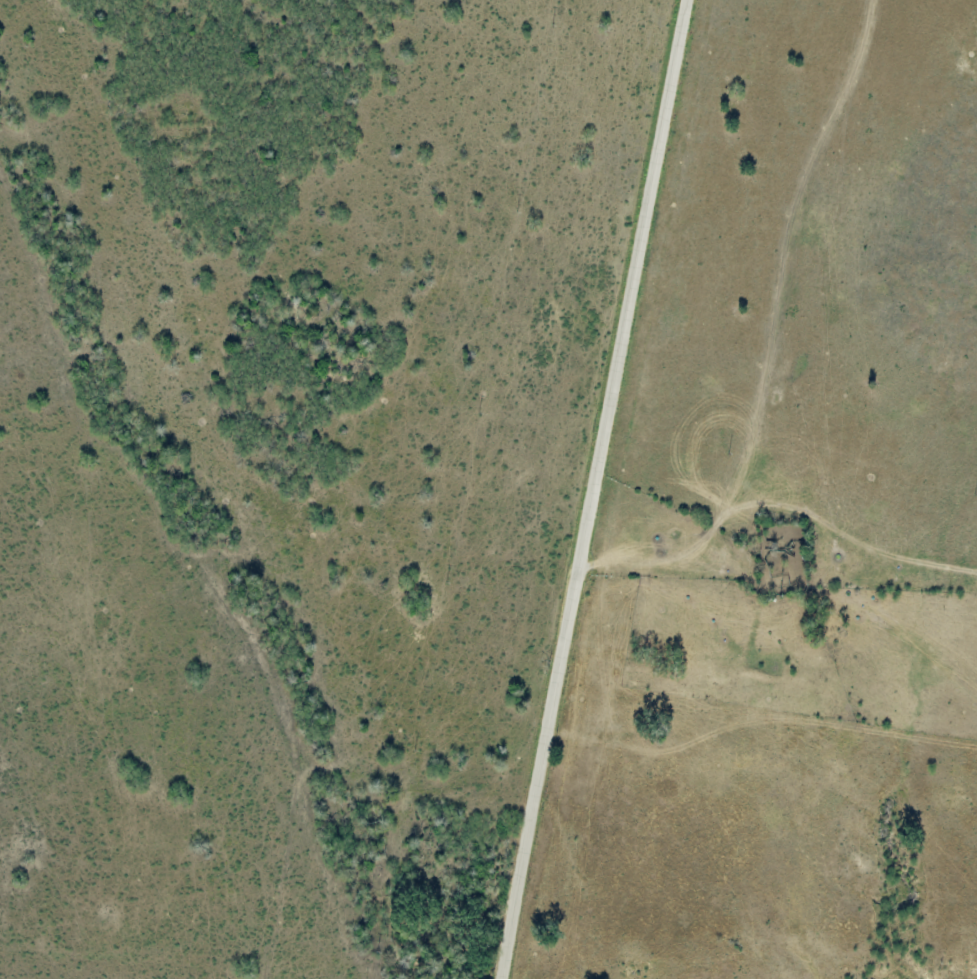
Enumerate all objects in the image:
road: (598, 489)

